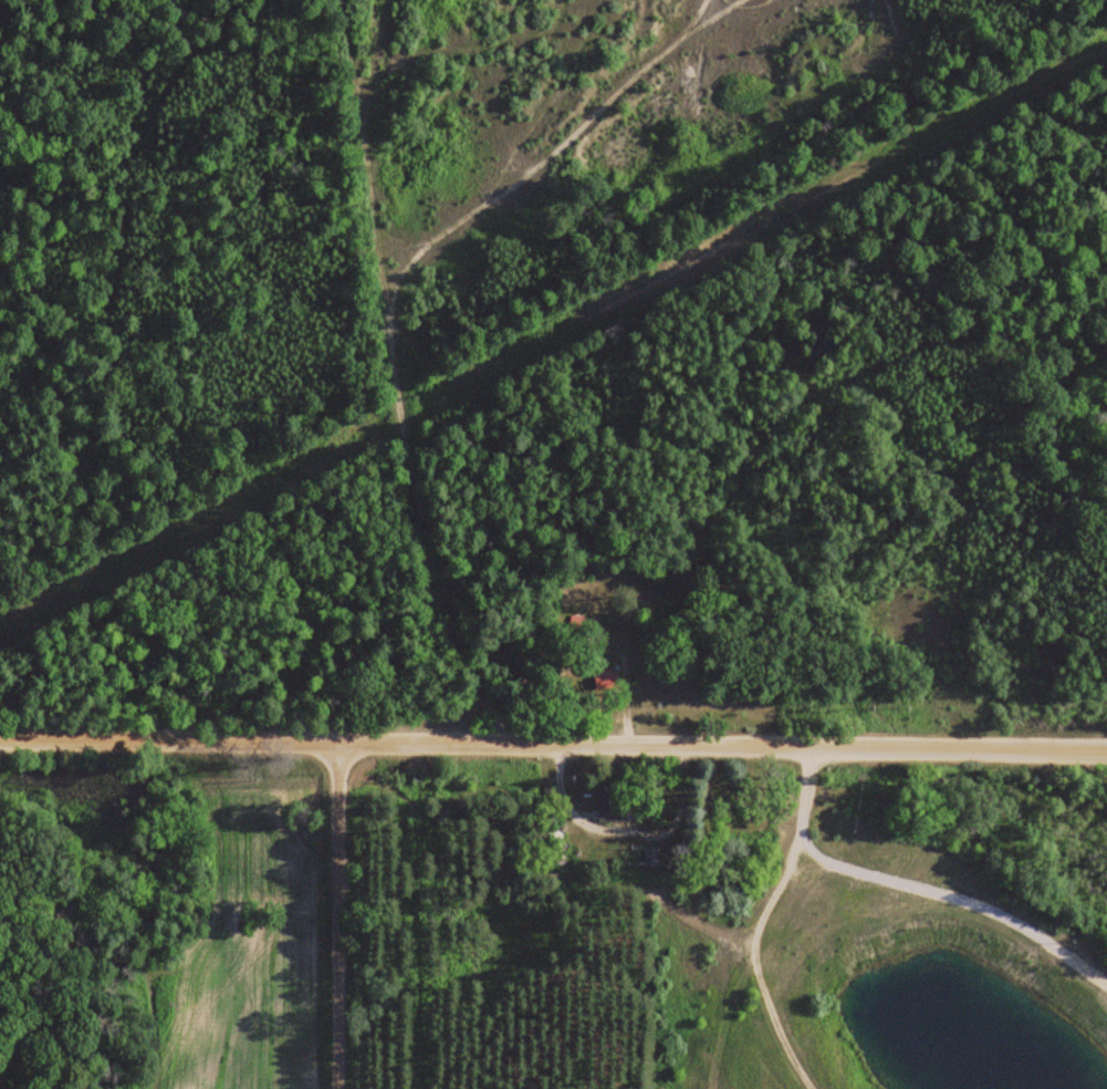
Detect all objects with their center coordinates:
building: (605, 682)
road: (553, 738)
building: (613, 802)
building: (549, 834)
building: (650, 855)
road: (343, 912)

